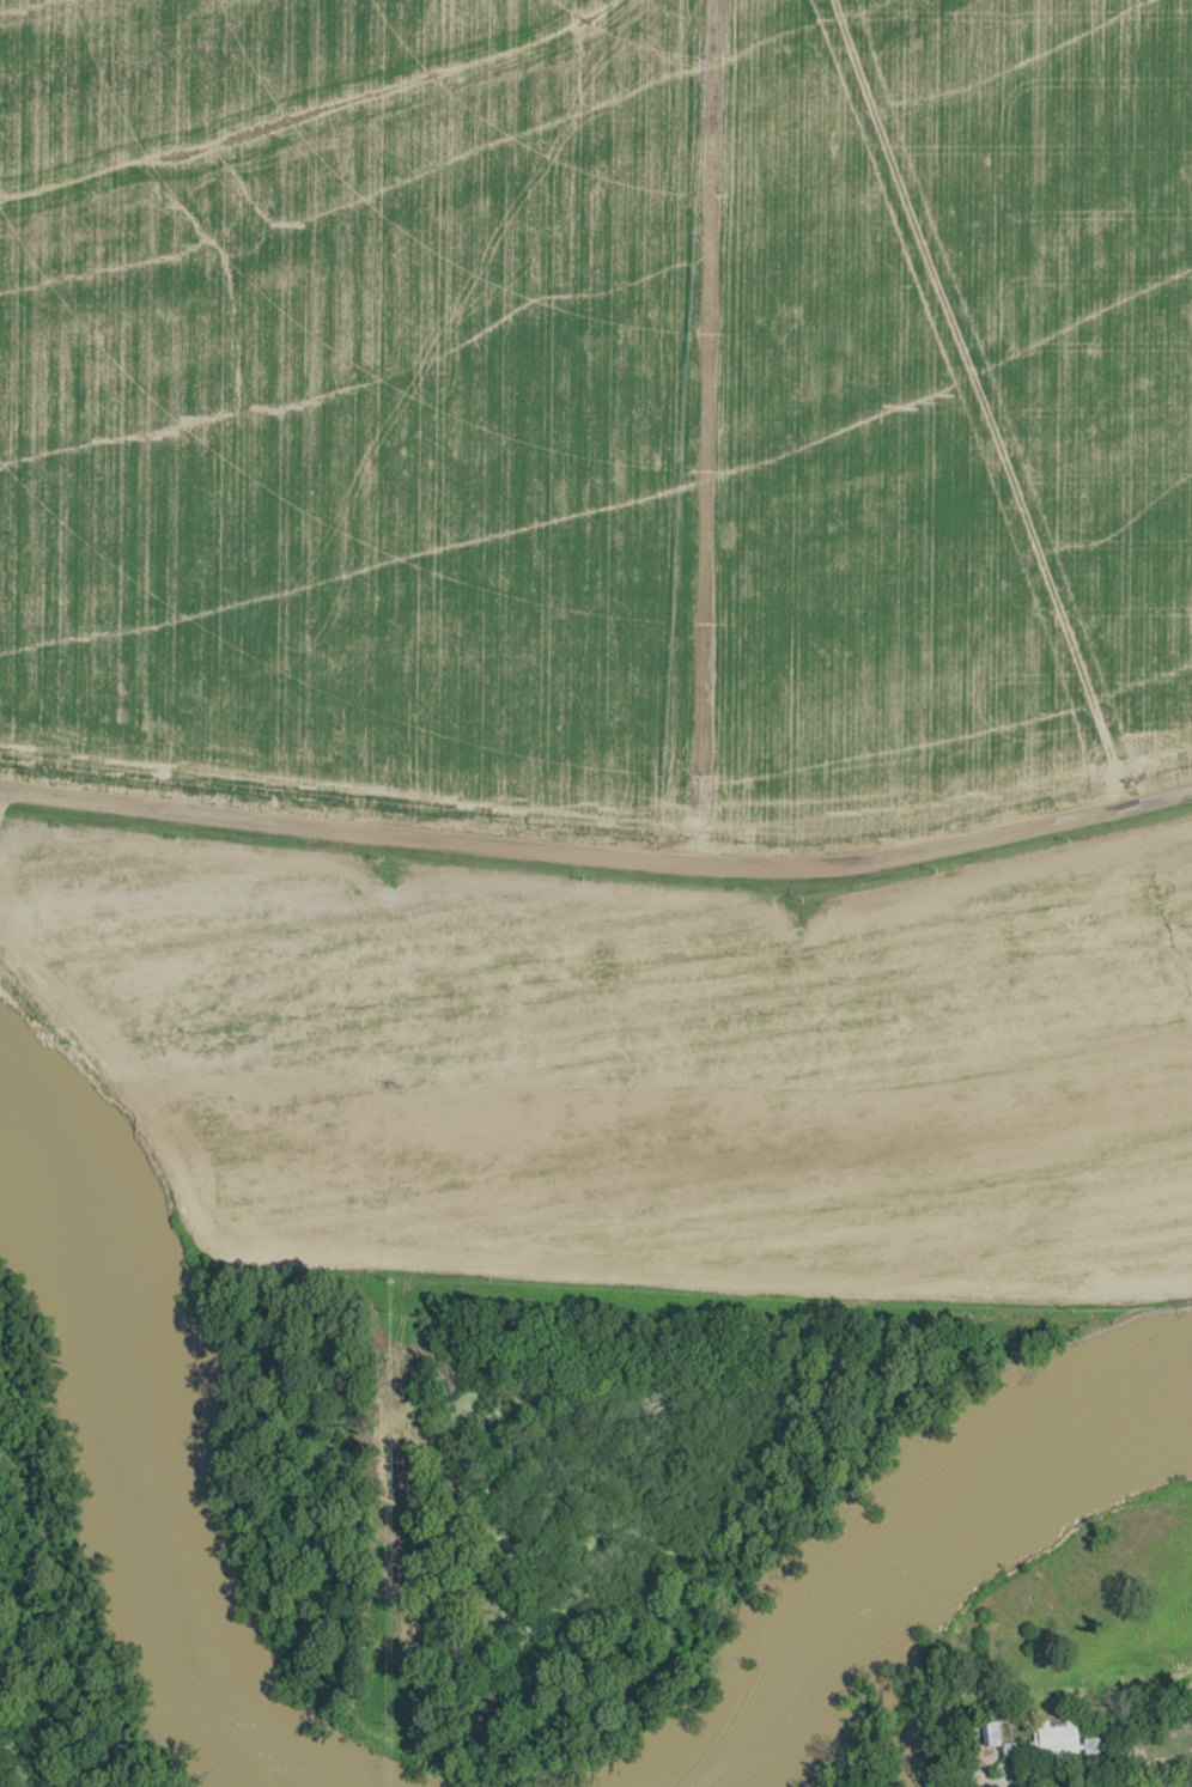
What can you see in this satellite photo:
road: (981, 401)
road: (598, 857)
river: (148, 1461)
river: (914, 1542)
building: (1051, 1739)
road: (1014, 1781)

